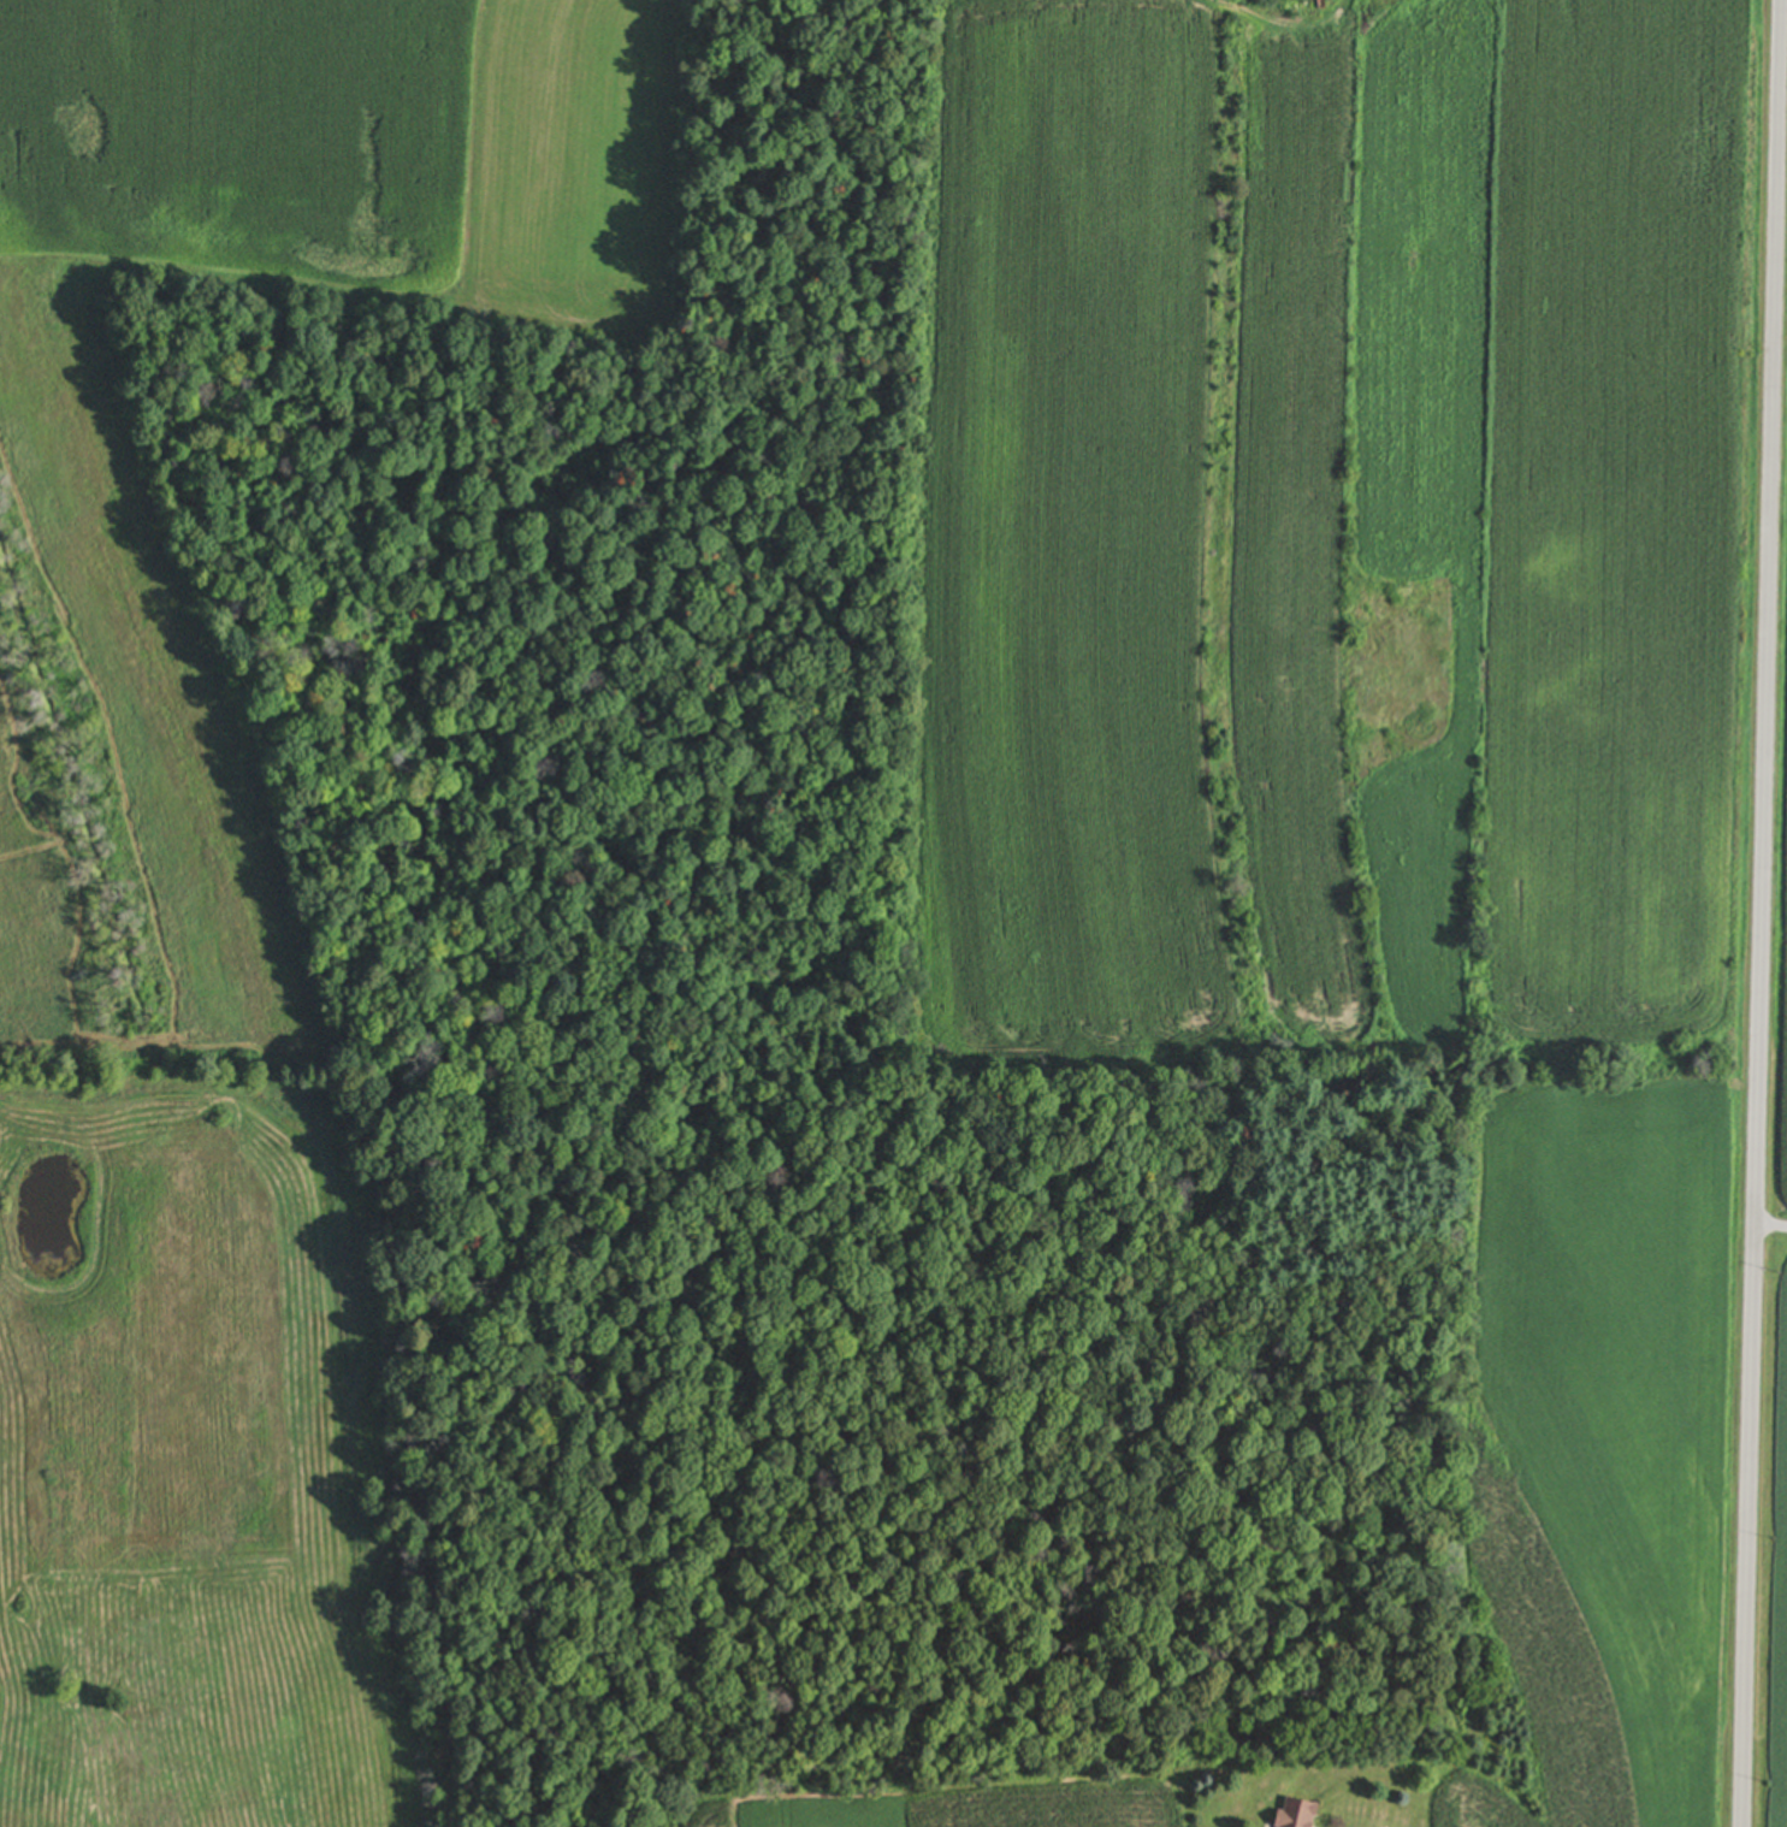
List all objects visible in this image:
road: (1751, 913)
road: (1765, 1230)
building: (1296, 1816)

